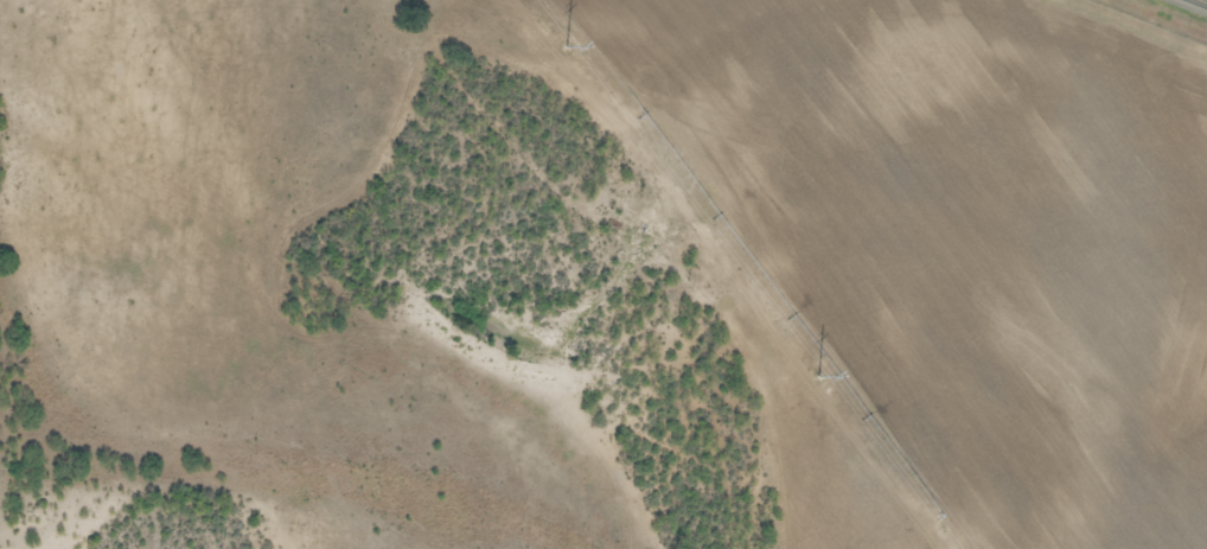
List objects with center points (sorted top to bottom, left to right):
road: (1203, 0)
railway: (1145, 23)
power tower: (557, 38)
power tower: (809, 369)

